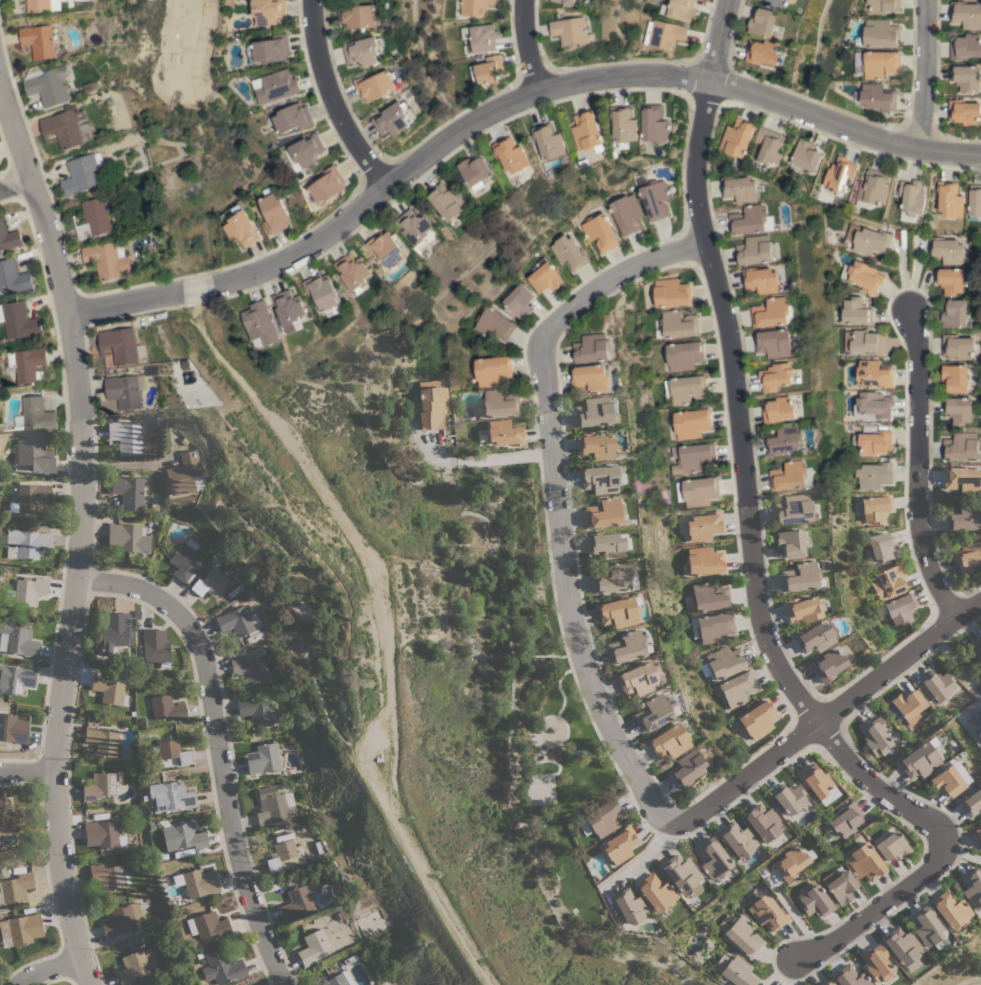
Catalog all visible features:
building: (565, 1)
building: (782, 3)
building: (38, 6)
building: (474, 6)
building: (883, 6)
building: (678, 9)
building: (265, 10)
building: (966, 15)
building: (357, 16)
building: (764, 23)
building: (570, 30)
building: (663, 33)
building: (879, 34)
building: (480, 37)
building: (37, 41)
road: (534, 44)
building: (965, 46)
building: (270, 49)
building: (361, 51)
building: (764, 53)
building: (394, 54)
building: (879, 64)
road: (728, 69)
building: (486, 71)
road: (923, 74)
building: (966, 78)
building: (375, 85)
building: (274, 86)
building: (49, 87)
road: (332, 97)
building: (404, 97)
building: (875, 97)
road: (508, 109)
building: (964, 112)
building: (290, 118)
building: (391, 119)
building: (654, 124)
building: (623, 126)
building: (62, 129)
building: (586, 132)
building: (737, 137)
building: (547, 141)
building: (769, 147)
building: (302, 152)
building: (510, 155)
building: (805, 157)
building: (583, 164)
building: (473, 172)
building: (82, 173)
building: (839, 174)
road: (14, 185)
building: (326, 185)
building: (740, 188)
building: (872, 189)
building: (655, 199)
building: (911, 199)
building: (949, 199)
building: (445, 201)
building: (974, 202)
building: (273, 213)
building: (626, 214)
building: (94, 217)
building: (751, 220)
building: (240, 228)
building: (414, 228)
building: (599, 232)
building: (9, 237)
building: (871, 241)
road: (688, 245)
building: (385, 249)
building: (756, 250)
building: (947, 250)
building: (568, 252)
building: (105, 260)
building: (351, 272)
building: (862, 276)
building: (13, 277)
building: (544, 277)
building: (761, 280)
building: (951, 280)
building: (670, 293)
building: (322, 294)
building: (517, 301)
building: (287, 311)
building: (855, 311)
building: (773, 312)
road: (543, 313)
building: (956, 314)
building: (607, 317)
building: (17, 321)
building: (259, 324)
building: (492, 324)
building: (679, 324)
building: (862, 341)
building: (774, 343)
building: (119, 345)
building: (958, 346)
building: (591, 349)
building: (684, 355)
building: (28, 365)
building: (490, 370)
building: (873, 374)
building: (777, 376)
building: (956, 377)
building: (590, 378)
building: (684, 389)
building: (122, 392)
building: (499, 403)
building: (433, 405)
building: (872, 405)
building: (778, 410)
building: (959, 410)
building: (594, 412)
building: (34, 415)
building: (691, 423)
building: (869, 428)
building: (506, 433)
building: (125, 436)
building: (783, 441)
building: (873, 443)
building: (596, 446)
building: (961, 446)
building: (35, 455)
road: (492, 457)
building: (691, 457)
road: (126, 468)
road: (920, 472)
building: (183, 474)
building: (791, 476)
building: (873, 476)
building: (600, 479)
building: (962, 480)
building: (128, 491)
building: (696, 491)
building: (32, 498)
road: (561, 505)
building: (876, 508)
building: (794, 509)
building: (604, 513)
building: (962, 518)
building: (856, 524)
building: (705, 525)
road: (86, 530)
building: (130, 537)
building: (27, 543)
building: (790, 543)
building: (606, 545)
building: (882, 547)
road: (758, 553)
building: (967, 556)
building: (185, 561)
building: (705, 561)
building: (613, 577)
building: (801, 577)
building: (889, 582)
building: (211, 583)
building: (30, 589)
building: (710, 597)
road: (945, 601)
building: (900, 608)
building: (803, 609)
building: (619, 612)
building: (238, 621)
road: (381, 622)
building: (713, 627)
building: (116, 630)
building: (814, 637)
building: (18, 640)
building: (156, 647)
building: (626, 647)
building: (977, 650)
building: (723, 663)
building: (828, 665)
building: (251, 668)
building: (17, 678)
building: (638, 679)
road: (804, 683)
building: (938, 684)
building: (736, 688)
building: (111, 689)
building: (909, 705)
building: (167, 708)
building: (258, 711)
road: (802, 711)
building: (654, 712)
road: (829, 716)
building: (758, 719)
building: (976, 722)
building: (13, 728)
building: (876, 736)
building: (102, 740)
road: (830, 740)
building: (670, 741)
road: (221, 749)
building: (174, 751)
building: (266, 758)
building: (921, 758)
building: (689, 767)
road: (26, 778)
building: (947, 781)
building: (818, 784)
building: (100, 786)
building: (171, 796)
building: (788, 798)
building: (971, 802)
building: (274, 805)
building: (8, 818)
building: (601, 819)
building: (846, 819)
building: (980, 819)
building: (763, 822)
building: (103, 834)
building: (978, 834)
building: (183, 837)
building: (736, 840)
building: (620, 844)
building: (892, 846)
building: (284, 856)
building: (712, 859)
building: (865, 862)
building: (791, 863)
building: (681, 873)
building: (109, 877)
building: (199, 883)
building: (840, 885)
building: (16, 887)
building: (972, 888)
building: (656, 892)
building: (814, 900)
building: (298, 901)
building: (629, 906)
building: (952, 910)
building: (767, 911)
building: (122, 919)
building: (208, 925)
building: (929, 928)
building: (22, 929)
building: (740, 933)
building: (314, 947)
building: (903, 948)
building: (876, 963)
building: (135, 965)
building: (222, 966)
building: (735, 970)
road: (48, 974)
building: (849, 977)
building: (340, 979)
building: (828, 983)

